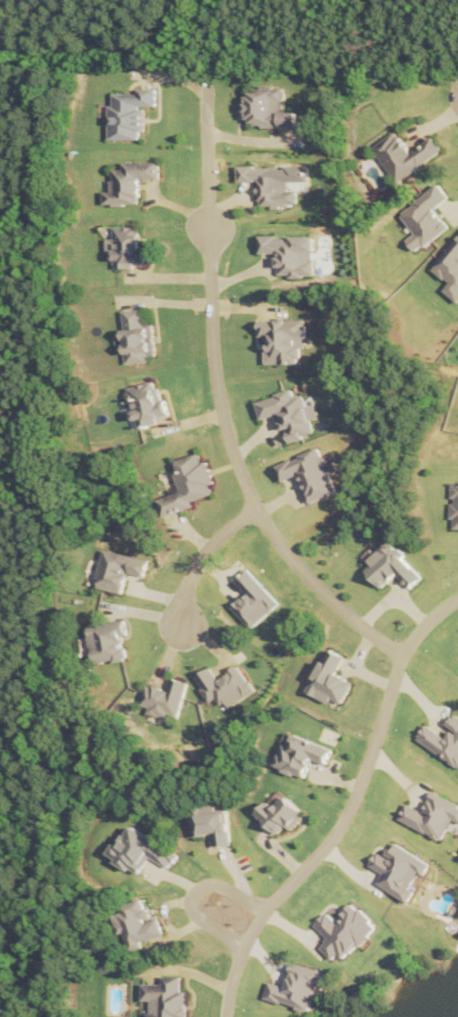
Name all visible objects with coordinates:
road: (169, 74)
building: (270, 111)
building: (128, 114)
road: (433, 122)
road: (252, 140)
building: (402, 157)
building: (131, 181)
building: (270, 186)
road: (226, 205)
road: (178, 206)
road: (452, 211)
building: (425, 217)
building: (127, 247)
building: (289, 252)
building: (452, 257)
road: (239, 275)
road: (168, 276)
road: (164, 301)
road: (245, 306)
building: (135, 336)
building: (281, 341)
building: (148, 402)
road: (222, 407)
building: (290, 411)
road: (187, 420)
road: (252, 438)
building: (311, 471)
building: (189, 481)
road: (277, 500)
building: (455, 507)
road: (189, 534)
road: (203, 558)
building: (121, 566)
building: (395, 566)
road: (217, 575)
road: (394, 593)
building: (248, 595)
road: (155, 596)
road: (141, 613)
building: (107, 639)
road: (206, 640)
road: (169, 654)
road: (354, 668)
building: (331, 680)
building: (227, 685)
building: (165, 697)
road: (418, 698)
building: (456, 719)
building: (440, 735)
building: (300, 754)
road: (394, 770)
road: (335, 777)
building: (433, 801)
road: (347, 811)
building: (277, 817)
building: (211, 826)
building: (134, 847)
road: (280, 853)
road: (347, 870)
building: (396, 870)
road: (188, 872)
road: (237, 872)
road: (192, 891)
road: (167, 921)
road: (291, 926)
building: (138, 928)
building: (341, 931)
road: (265, 956)
road: (189, 970)
building: (293, 985)
building: (166, 999)

